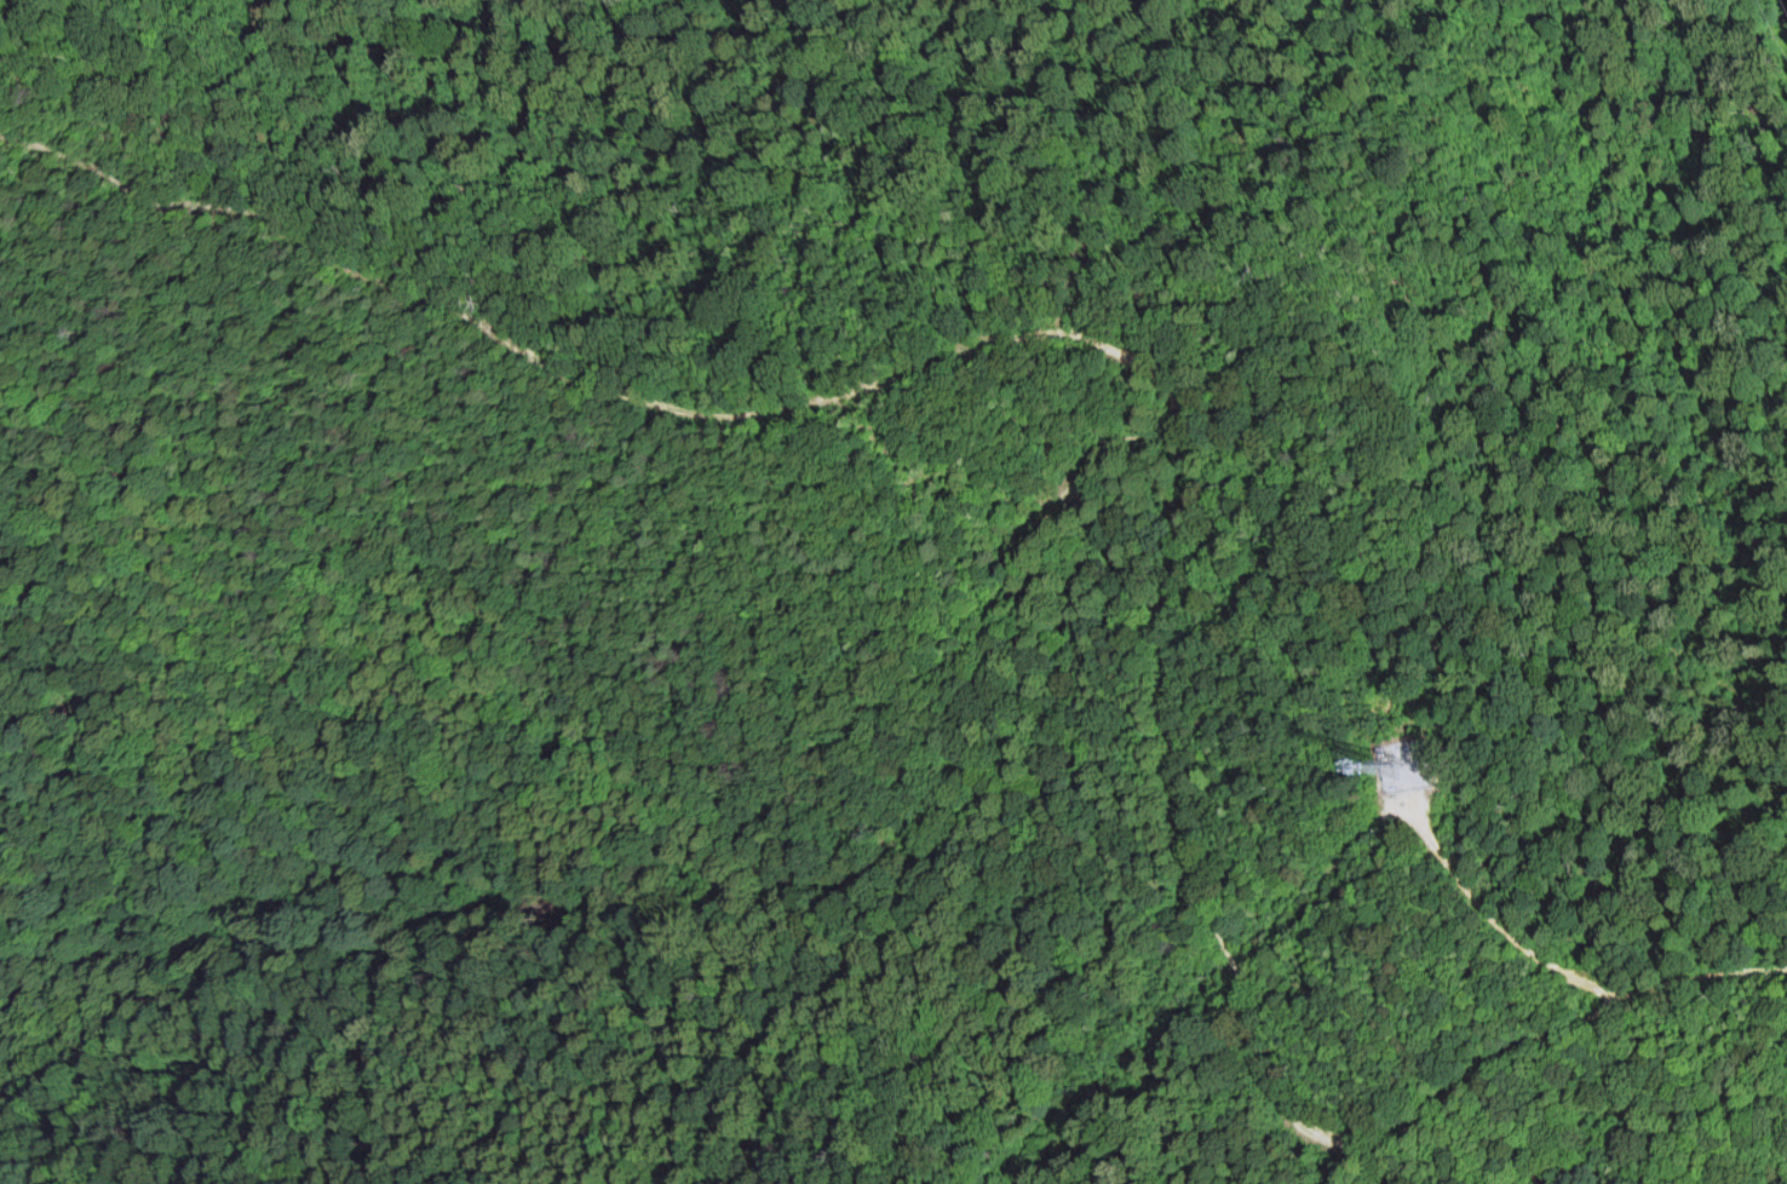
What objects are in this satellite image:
road: (1150, 450)

